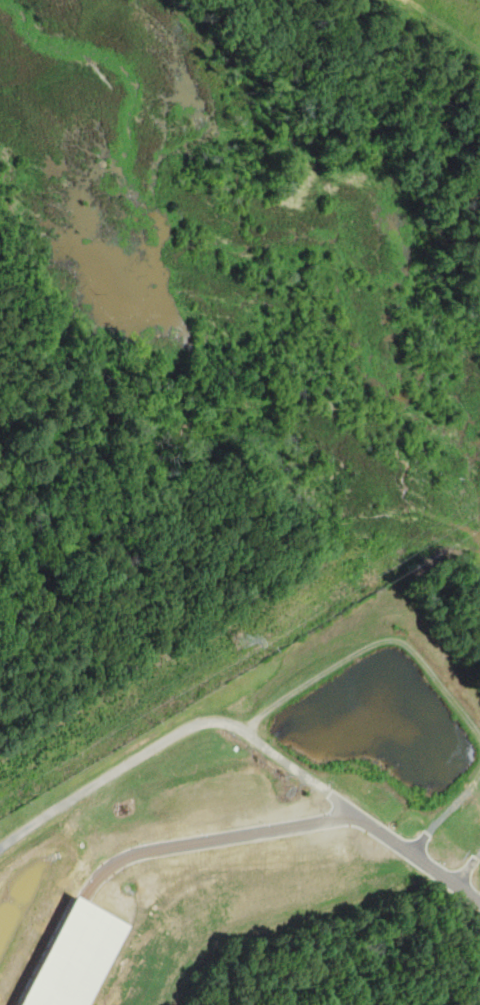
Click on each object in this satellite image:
power tower: (239, 645)
road: (175, 730)
road: (292, 821)

